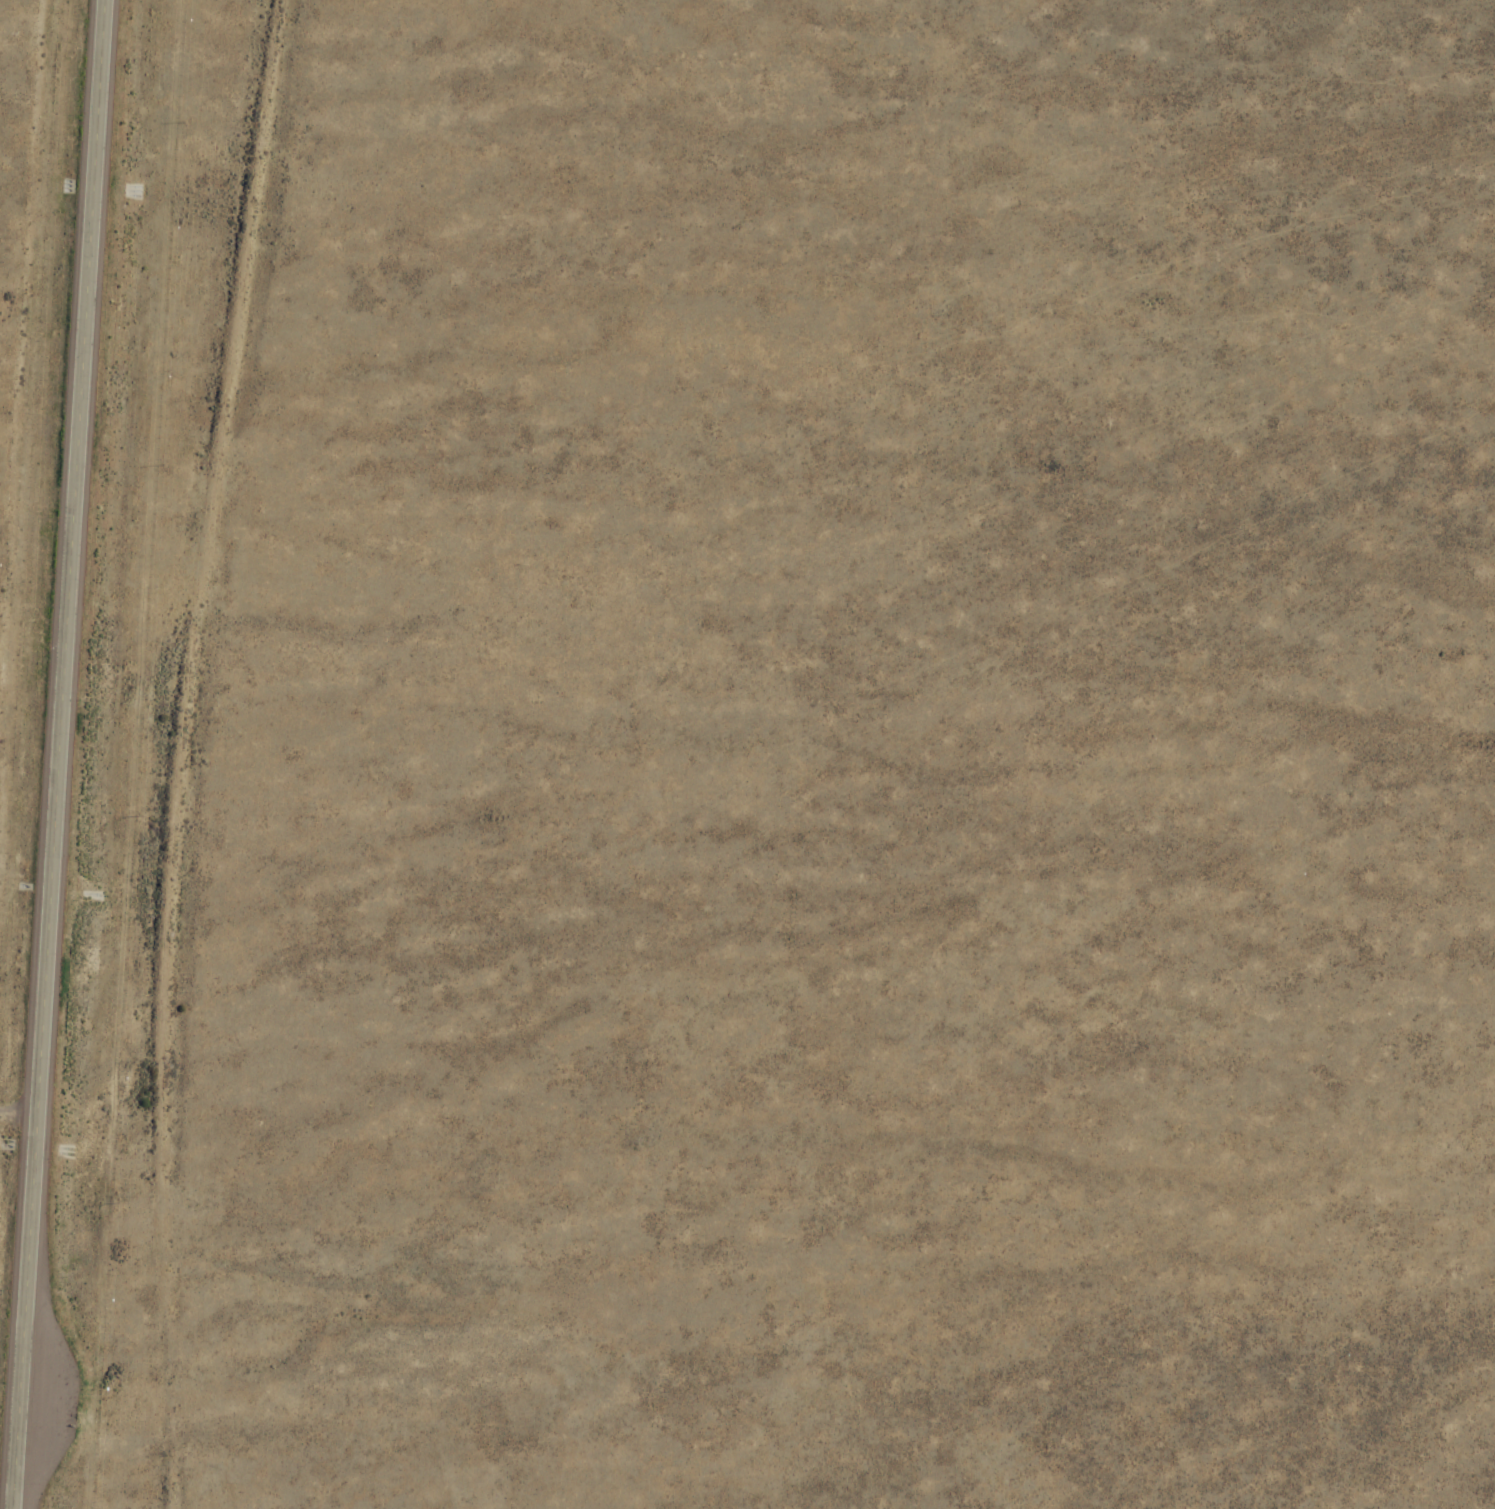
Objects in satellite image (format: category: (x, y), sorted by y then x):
road: (56, 754)
road: (19, 1116)
parking lot: (41, 1395)

